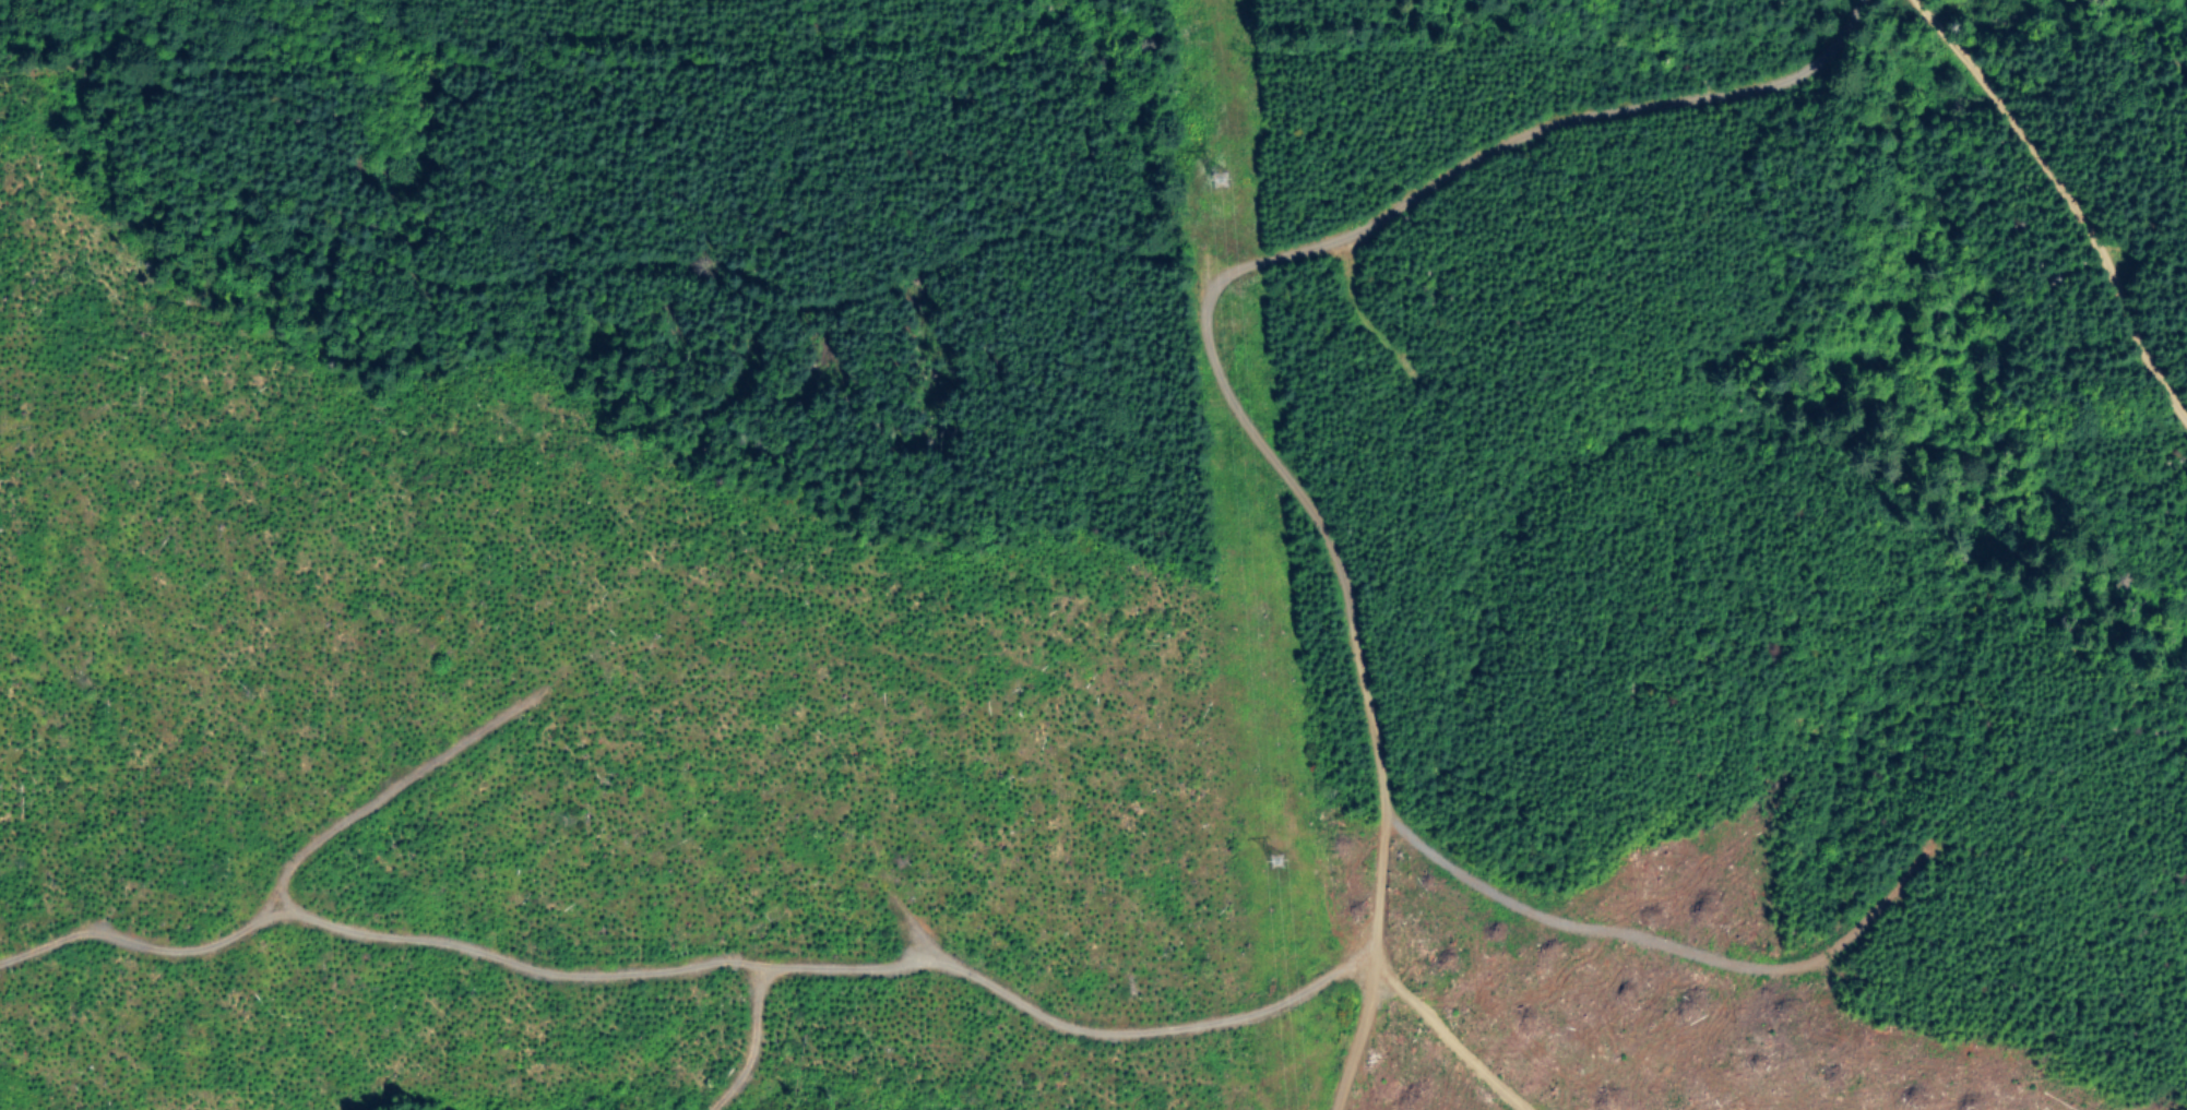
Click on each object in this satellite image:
road: (2065, 186)

